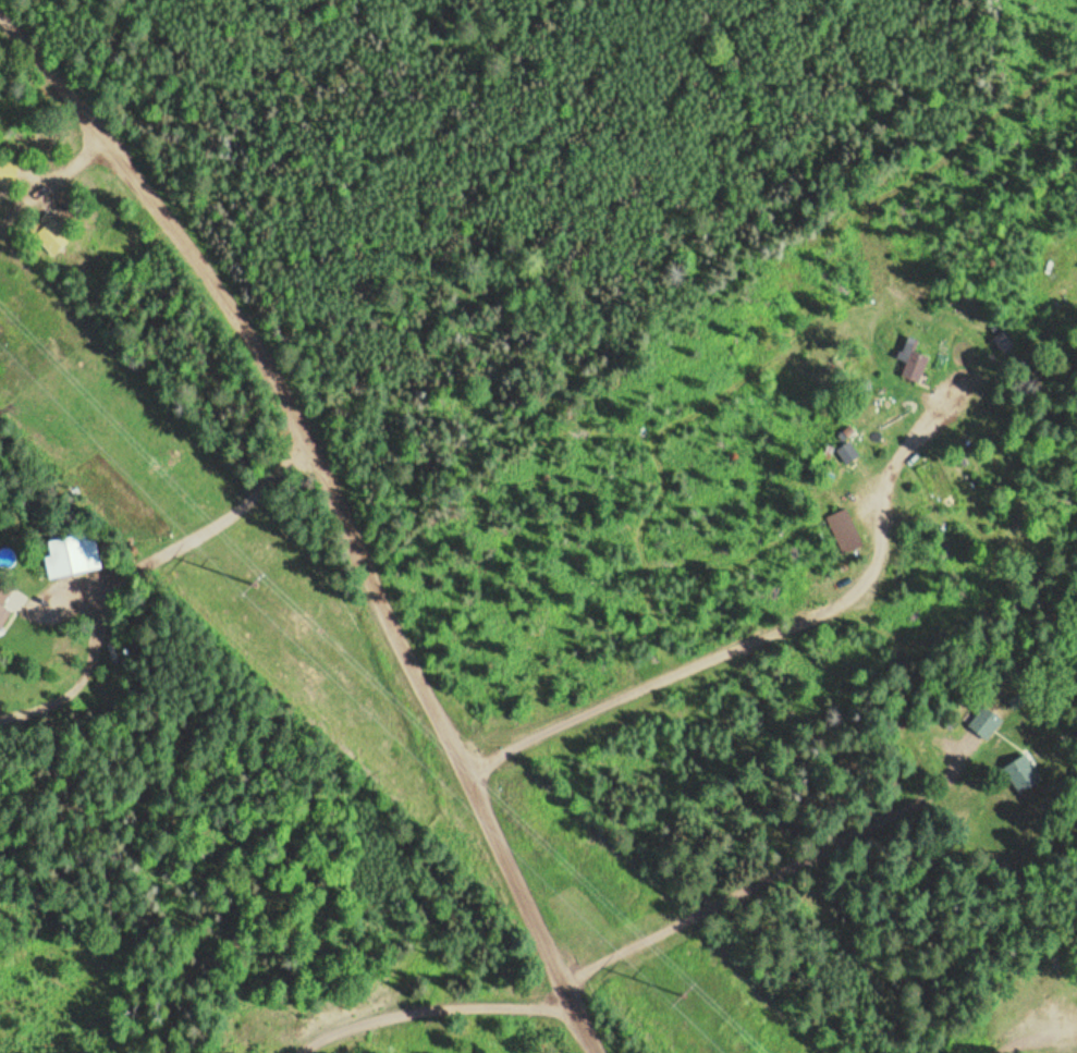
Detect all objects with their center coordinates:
building: (9, 172)
building: (1002, 342)
building: (909, 358)
road: (336, 509)
building: (72, 555)
power tower: (259, 584)
building: (4, 596)
road: (793, 612)
building: (989, 721)
building: (1025, 774)
power tower: (686, 994)
road: (1011, 1038)

